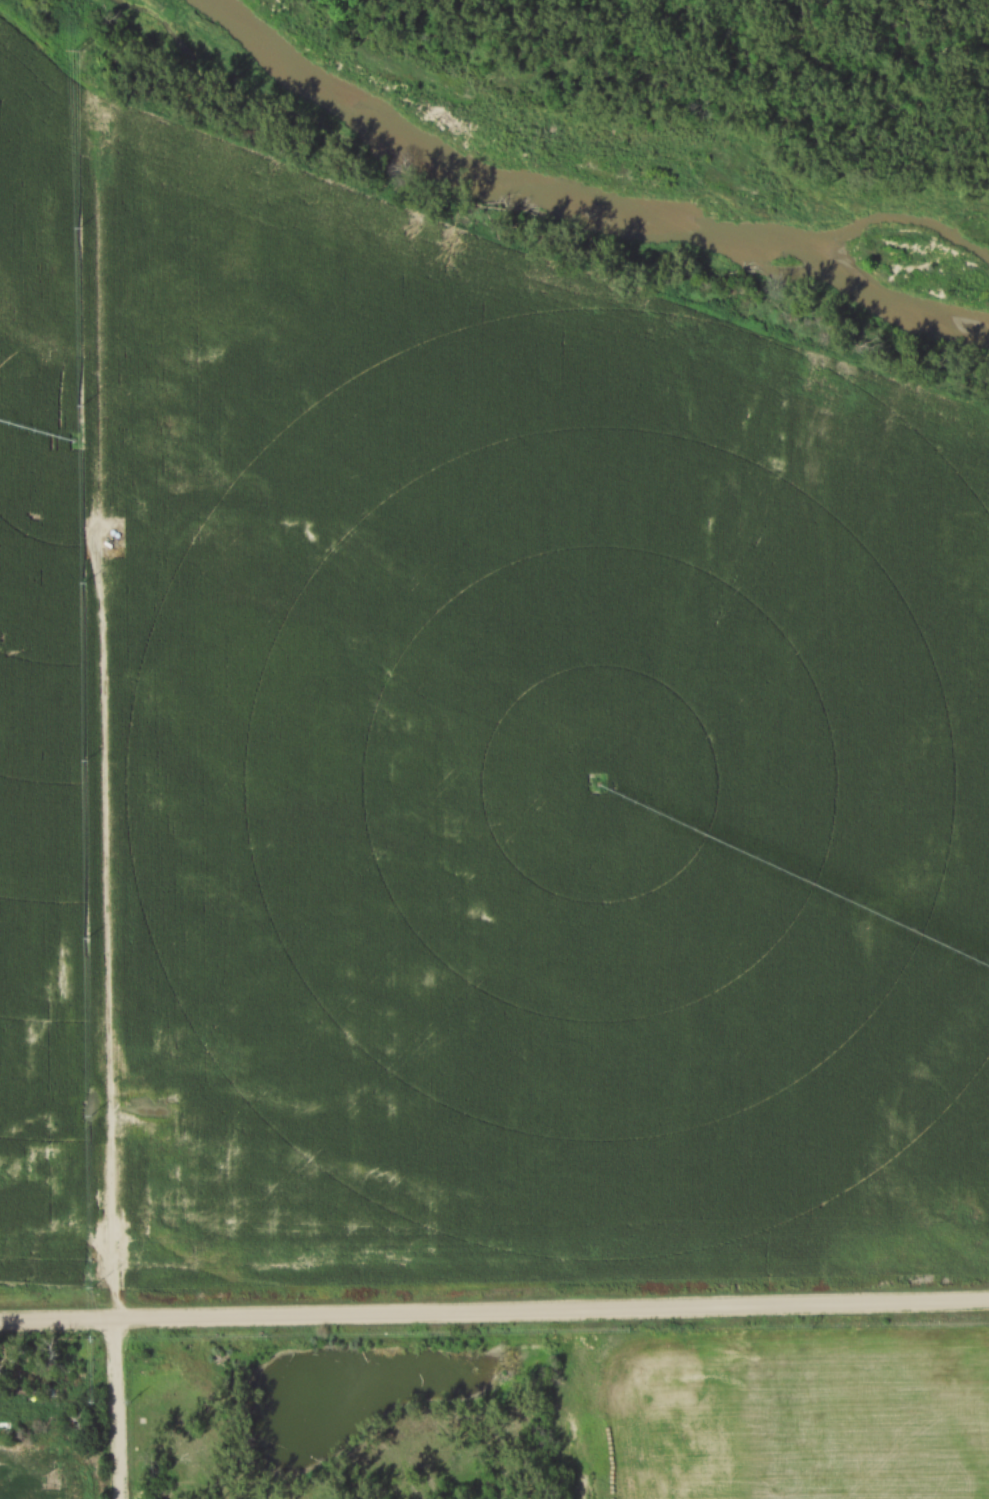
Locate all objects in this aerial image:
river: (580, 205)
road: (494, 1313)
road: (61, 1406)
road: (112, 1409)

